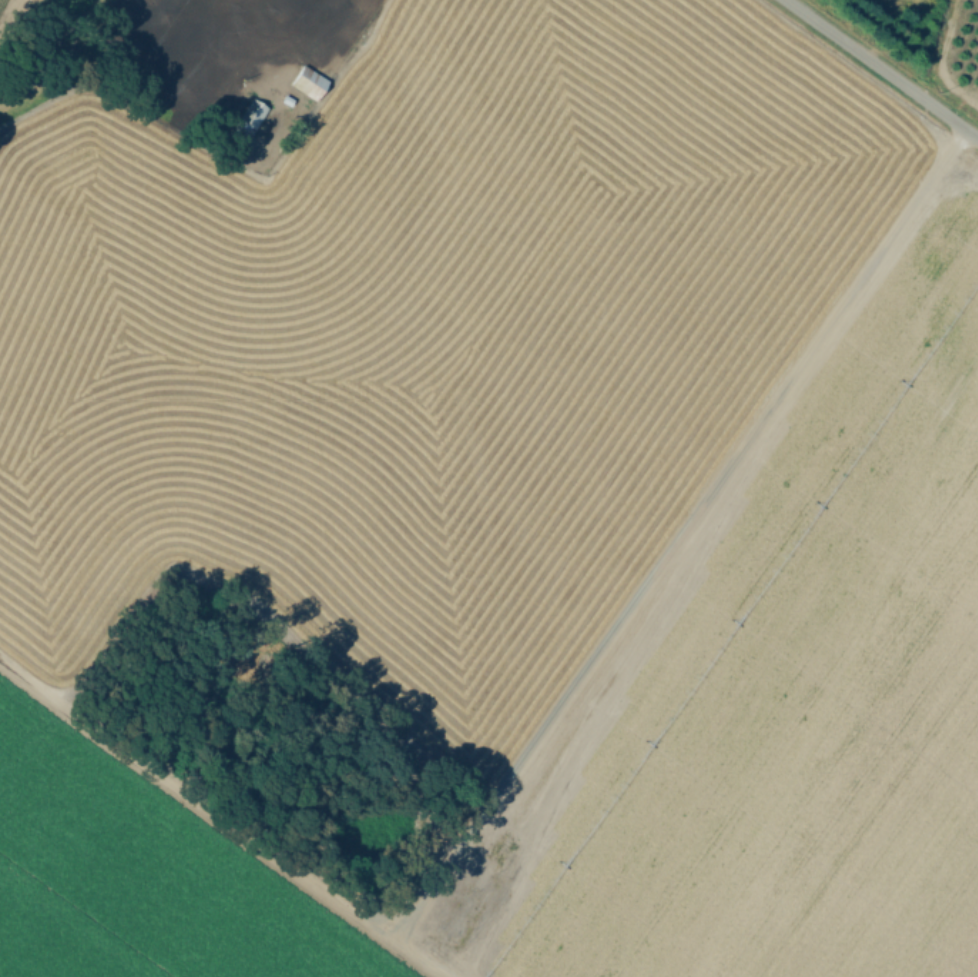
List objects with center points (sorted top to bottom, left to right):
road: (881, 69)
building: (306, 83)
building: (246, 123)
crop: (380, 432)
crop: (881, 776)

